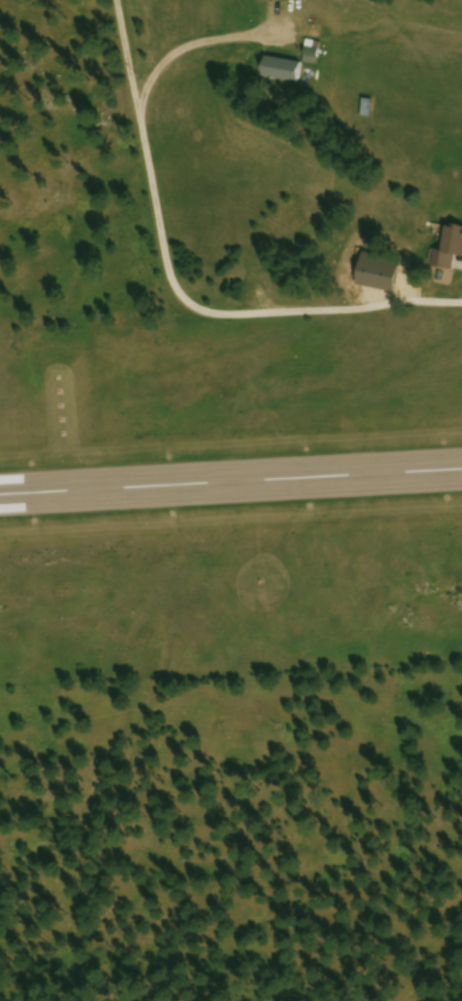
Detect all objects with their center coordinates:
building: (283, 71)
building: (390, 197)
building: (451, 249)
airport runway: (231, 481)
airport: (230, 501)

